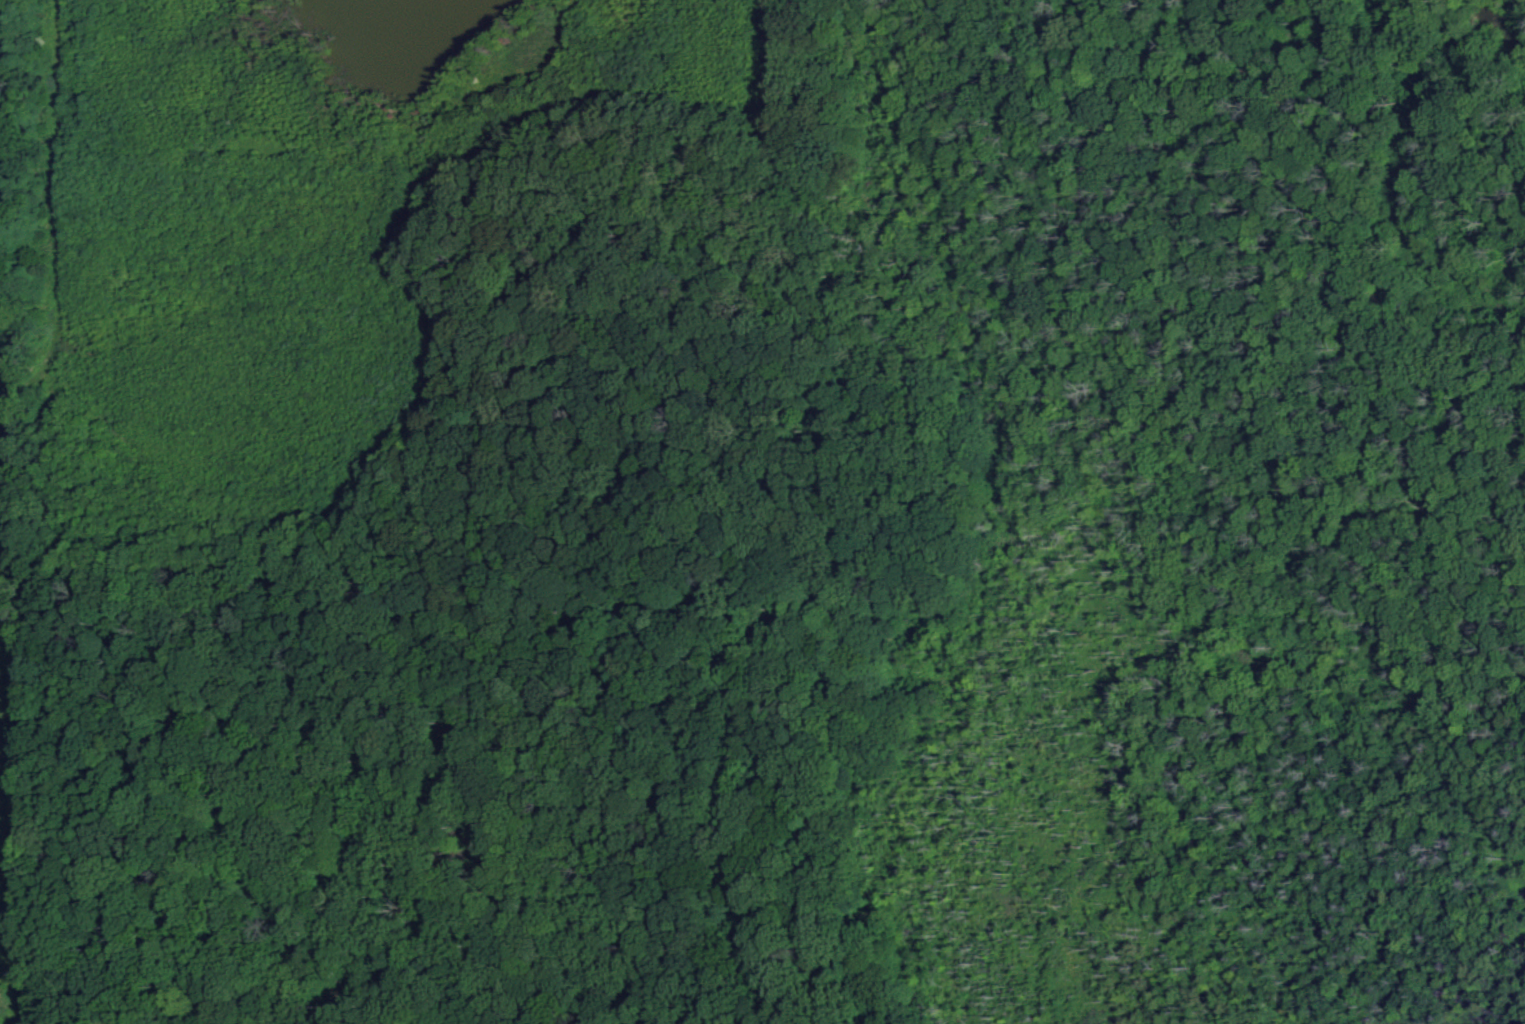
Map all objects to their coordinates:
park: (762, 512)

